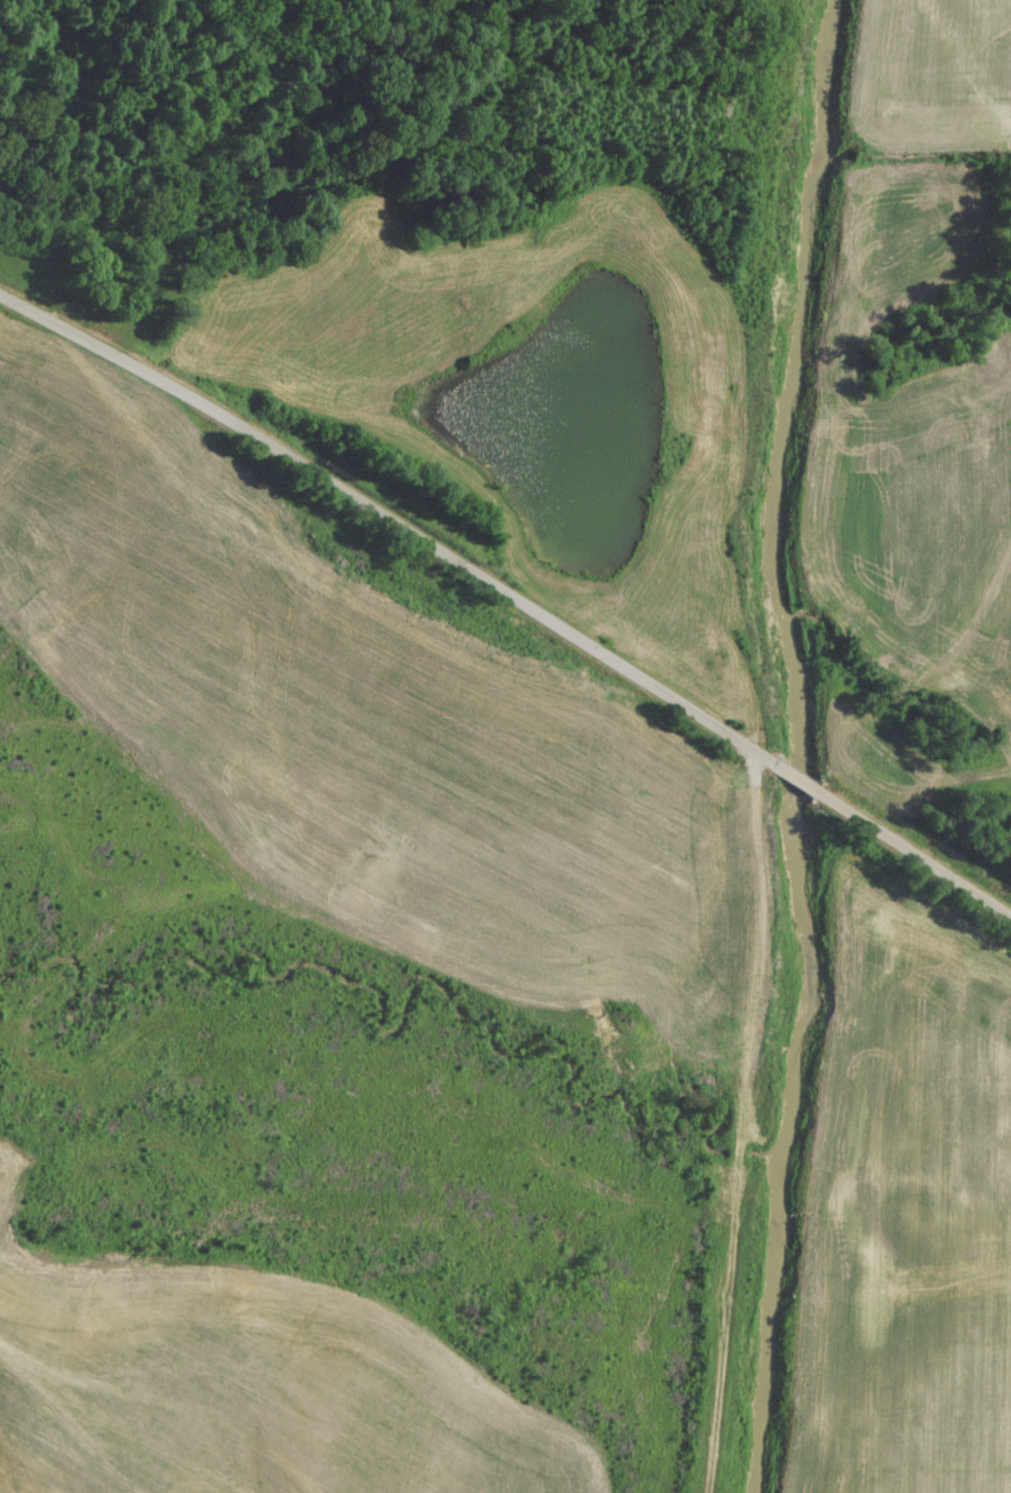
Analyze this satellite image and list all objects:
road: (390, 523)
road: (666, 666)
road: (794, 782)
road: (913, 858)

